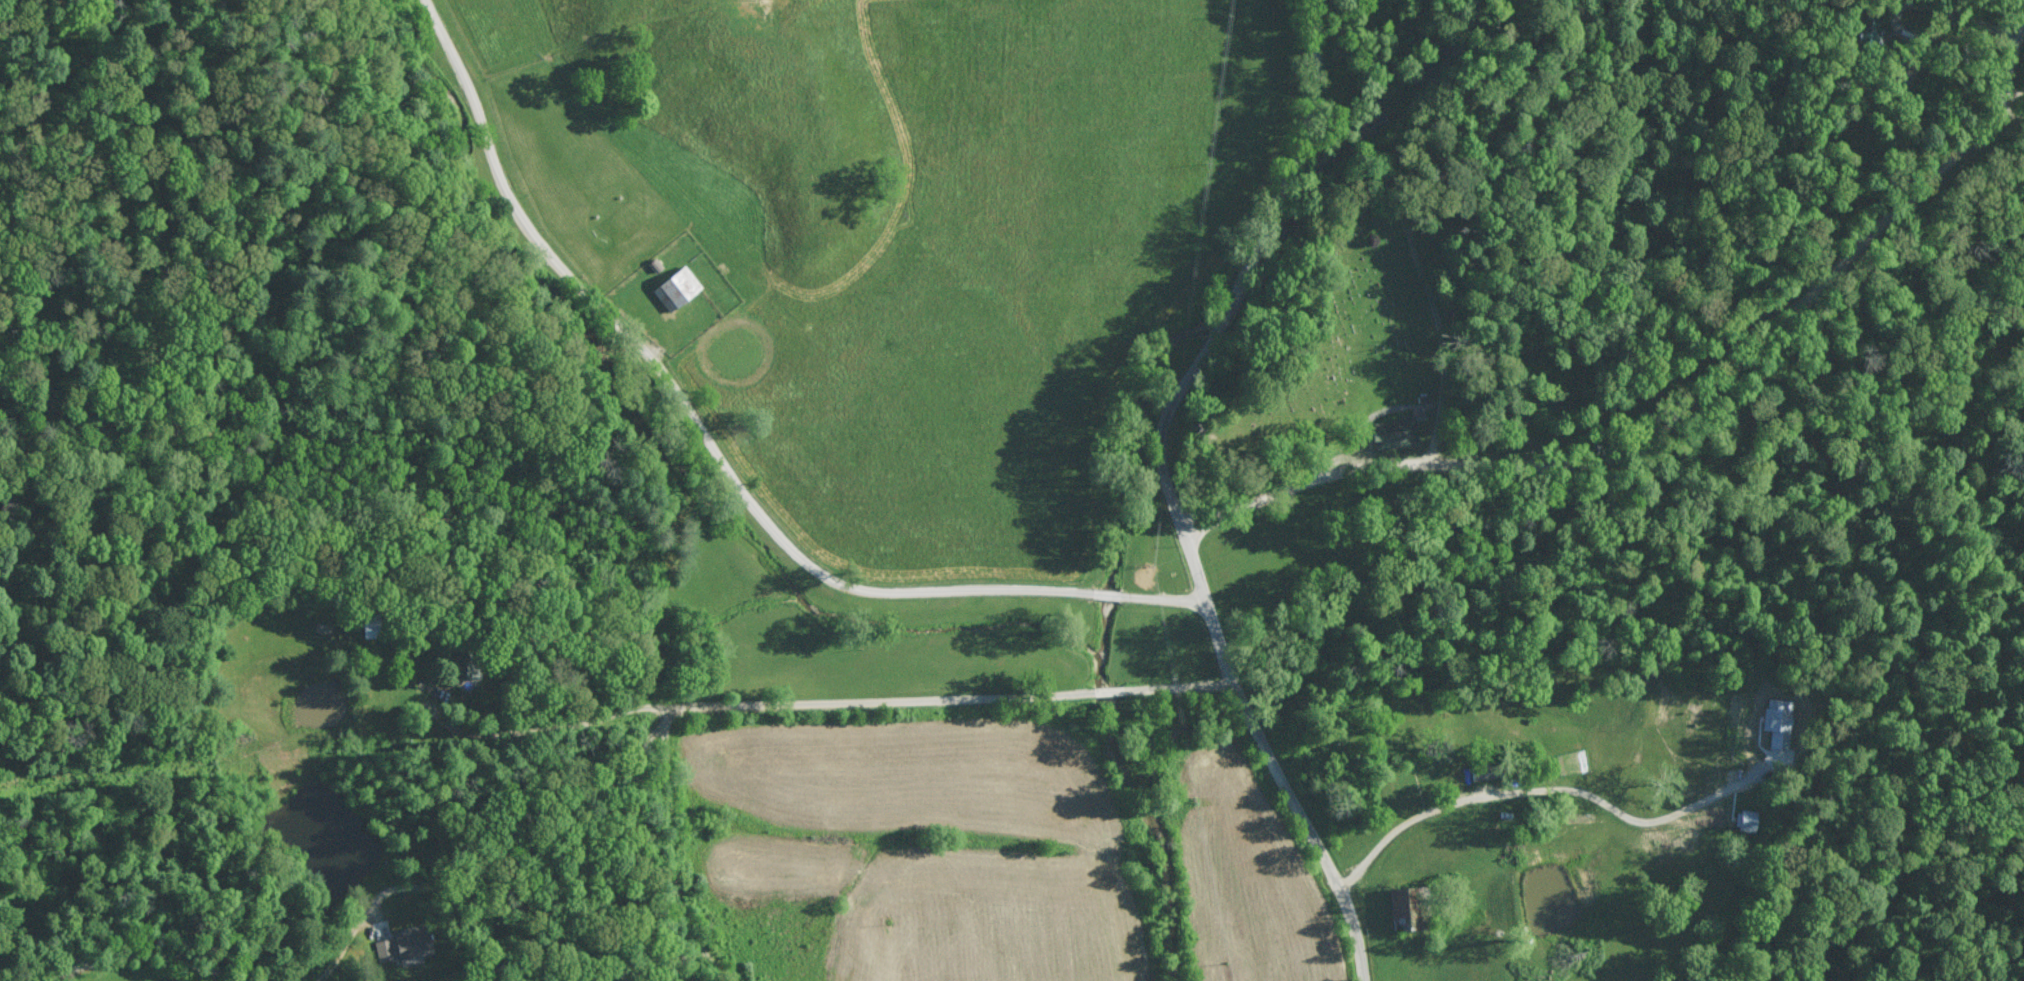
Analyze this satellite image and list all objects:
road: (1912, 2)
road: (2008, 71)
road: (1316, 106)
road: (1254, 257)
building: (677, 288)
road: (1221, 321)
road: (689, 407)
road: (1653, 425)
building: (1398, 431)
road: (1106, 593)
road: (1166, 597)
road: (1234, 659)
building: (464, 663)
road: (1183, 685)
road: (1107, 689)
road: (652, 718)
building: (1778, 722)
road: (532, 724)
building: (1485, 771)
road: (1523, 793)
road: (675, 852)
building: (1410, 906)
building: (404, 943)
road: (127, 956)

